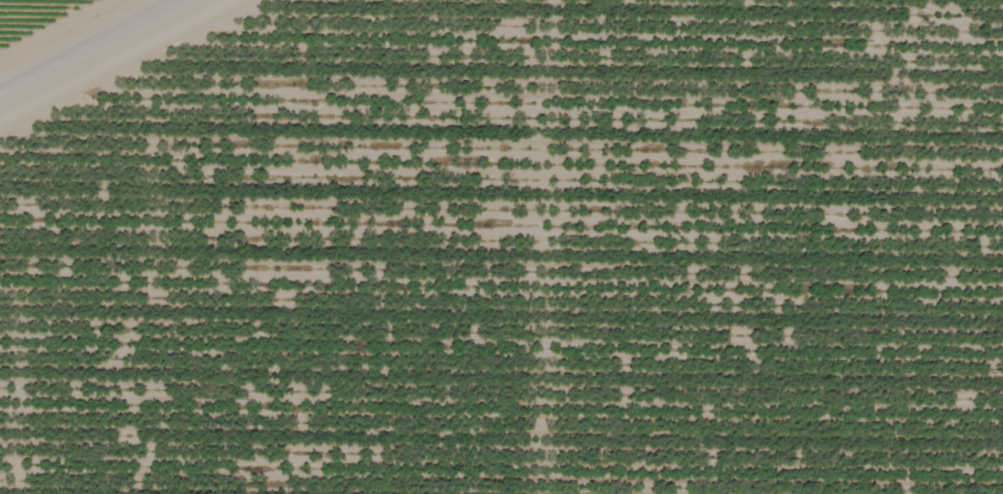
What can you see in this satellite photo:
crop: (48, 25)
road: (94, 49)

